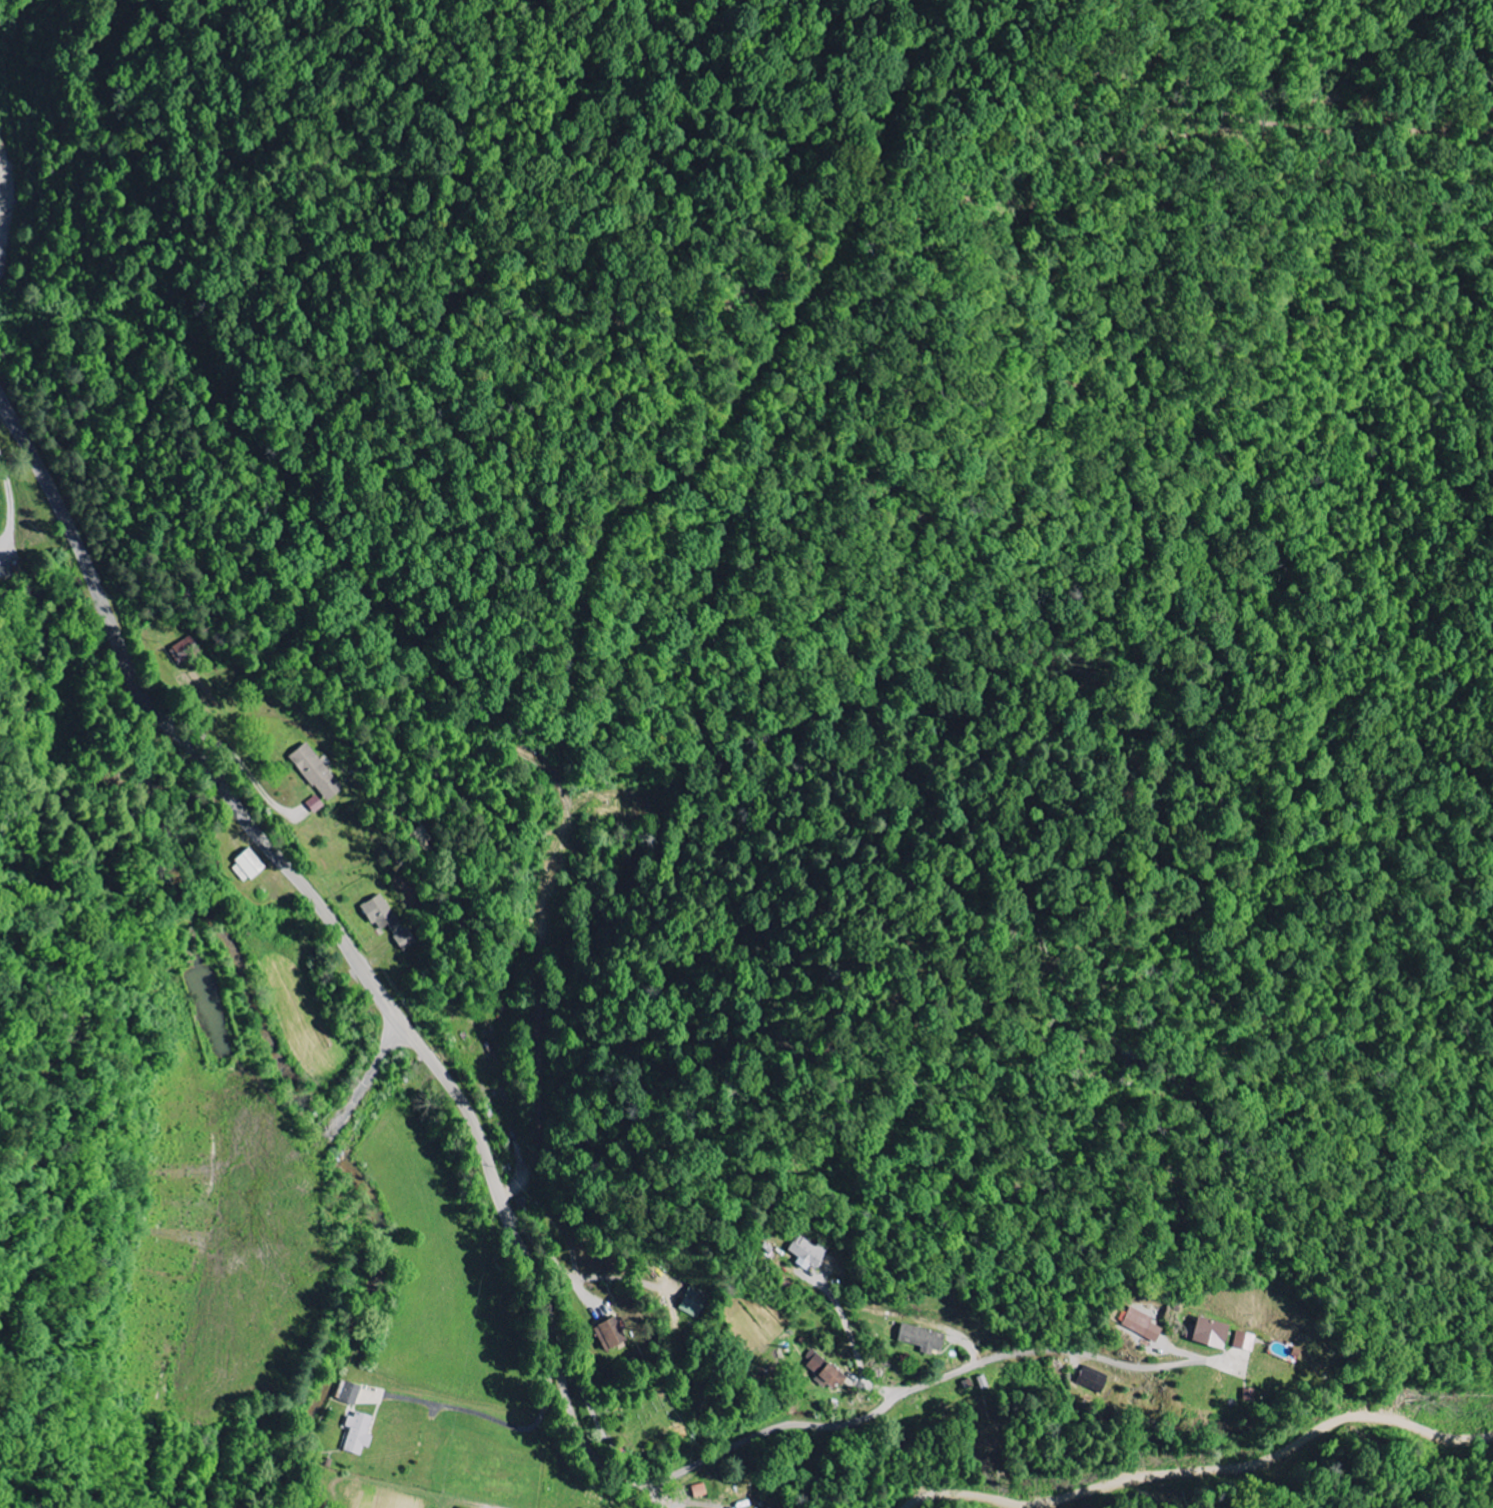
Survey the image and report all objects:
building: (183, 651)
building: (318, 773)
building: (316, 805)
building: (249, 868)
building: (389, 922)
road: (343, 939)
building: (808, 1254)
building: (695, 1302)
building: (1139, 1322)
building: (1216, 1333)
building: (614, 1335)
building: (925, 1339)
building: (1247, 1341)
building: (826, 1371)
building: (350, 1392)
road: (835, 1425)
building: (360, 1433)
building: (702, 1491)
road: (658, 1499)

